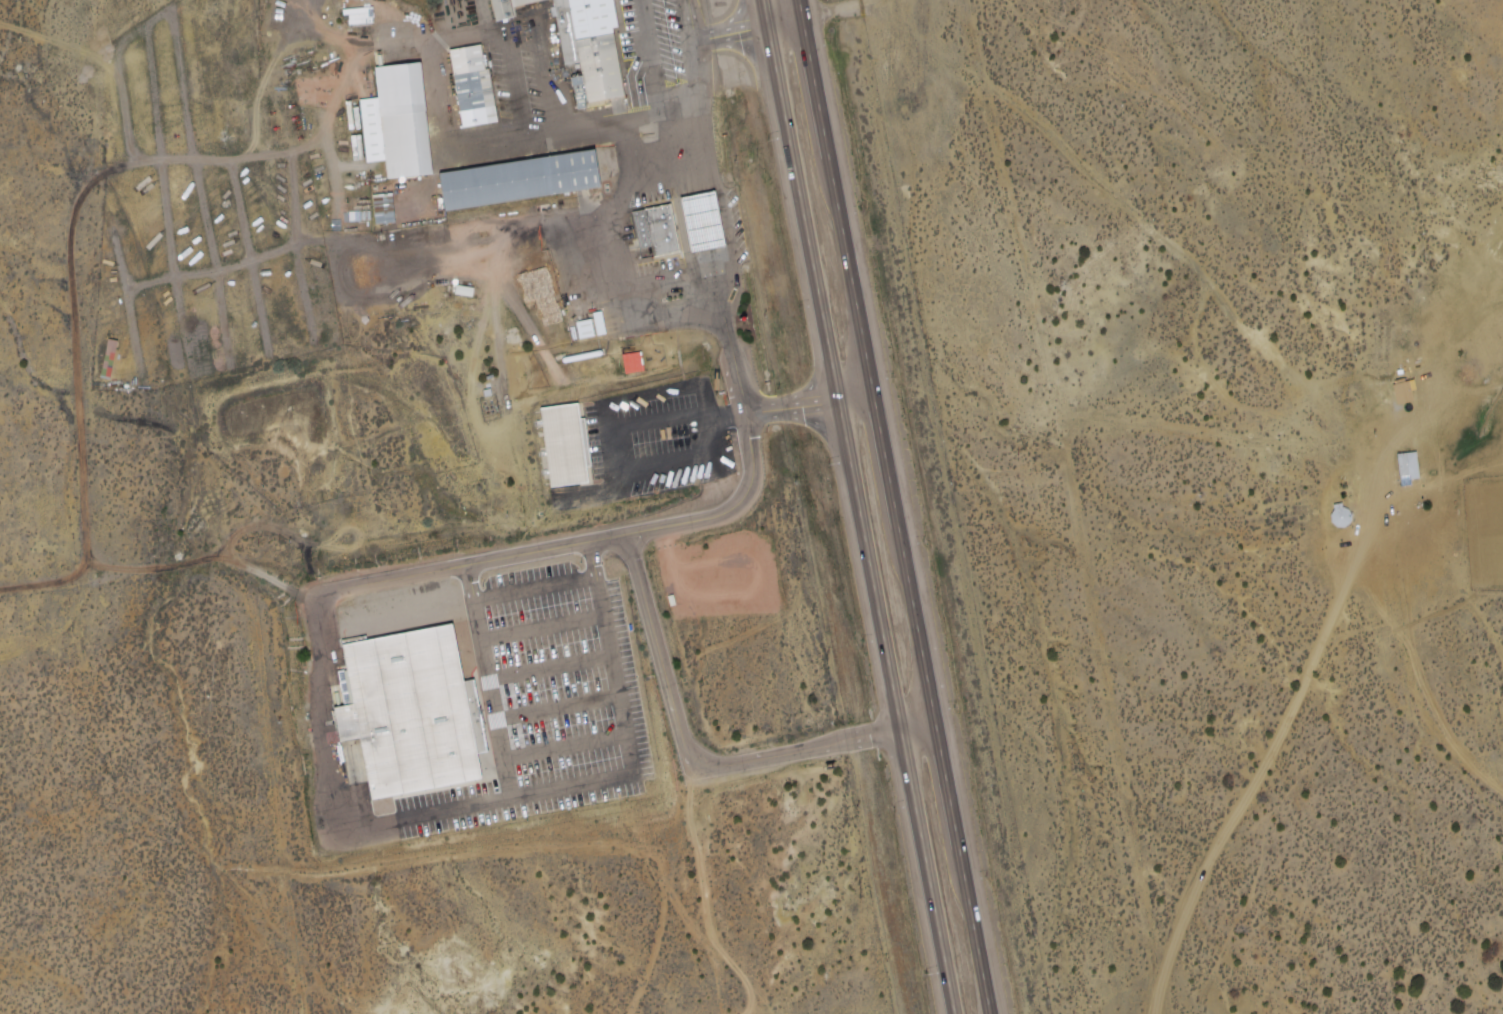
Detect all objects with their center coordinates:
building: (524, 1)
road: (833, 19)
building: (597, 49)
building: (475, 85)
building: (401, 120)
building: (522, 179)
building: (385, 207)
building: (711, 222)
gas station: (711, 222)
road: (1160, 233)
building: (667, 235)
building: (572, 447)
road: (860, 507)
road: (898, 507)
road: (660, 618)
building: (420, 714)
road: (332, 730)
road: (1288, 744)
road: (518, 783)

